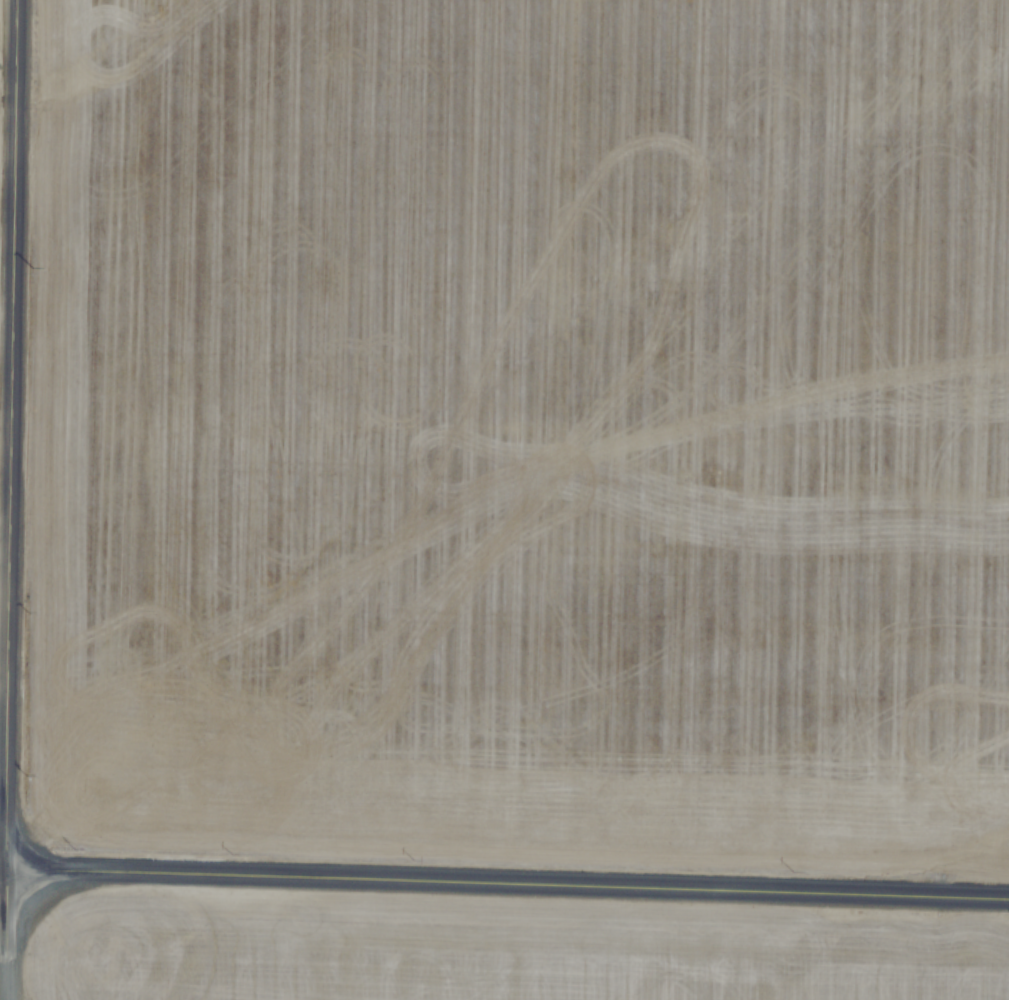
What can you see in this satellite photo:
road: (7, 430)
road: (507, 869)
road: (5, 930)

